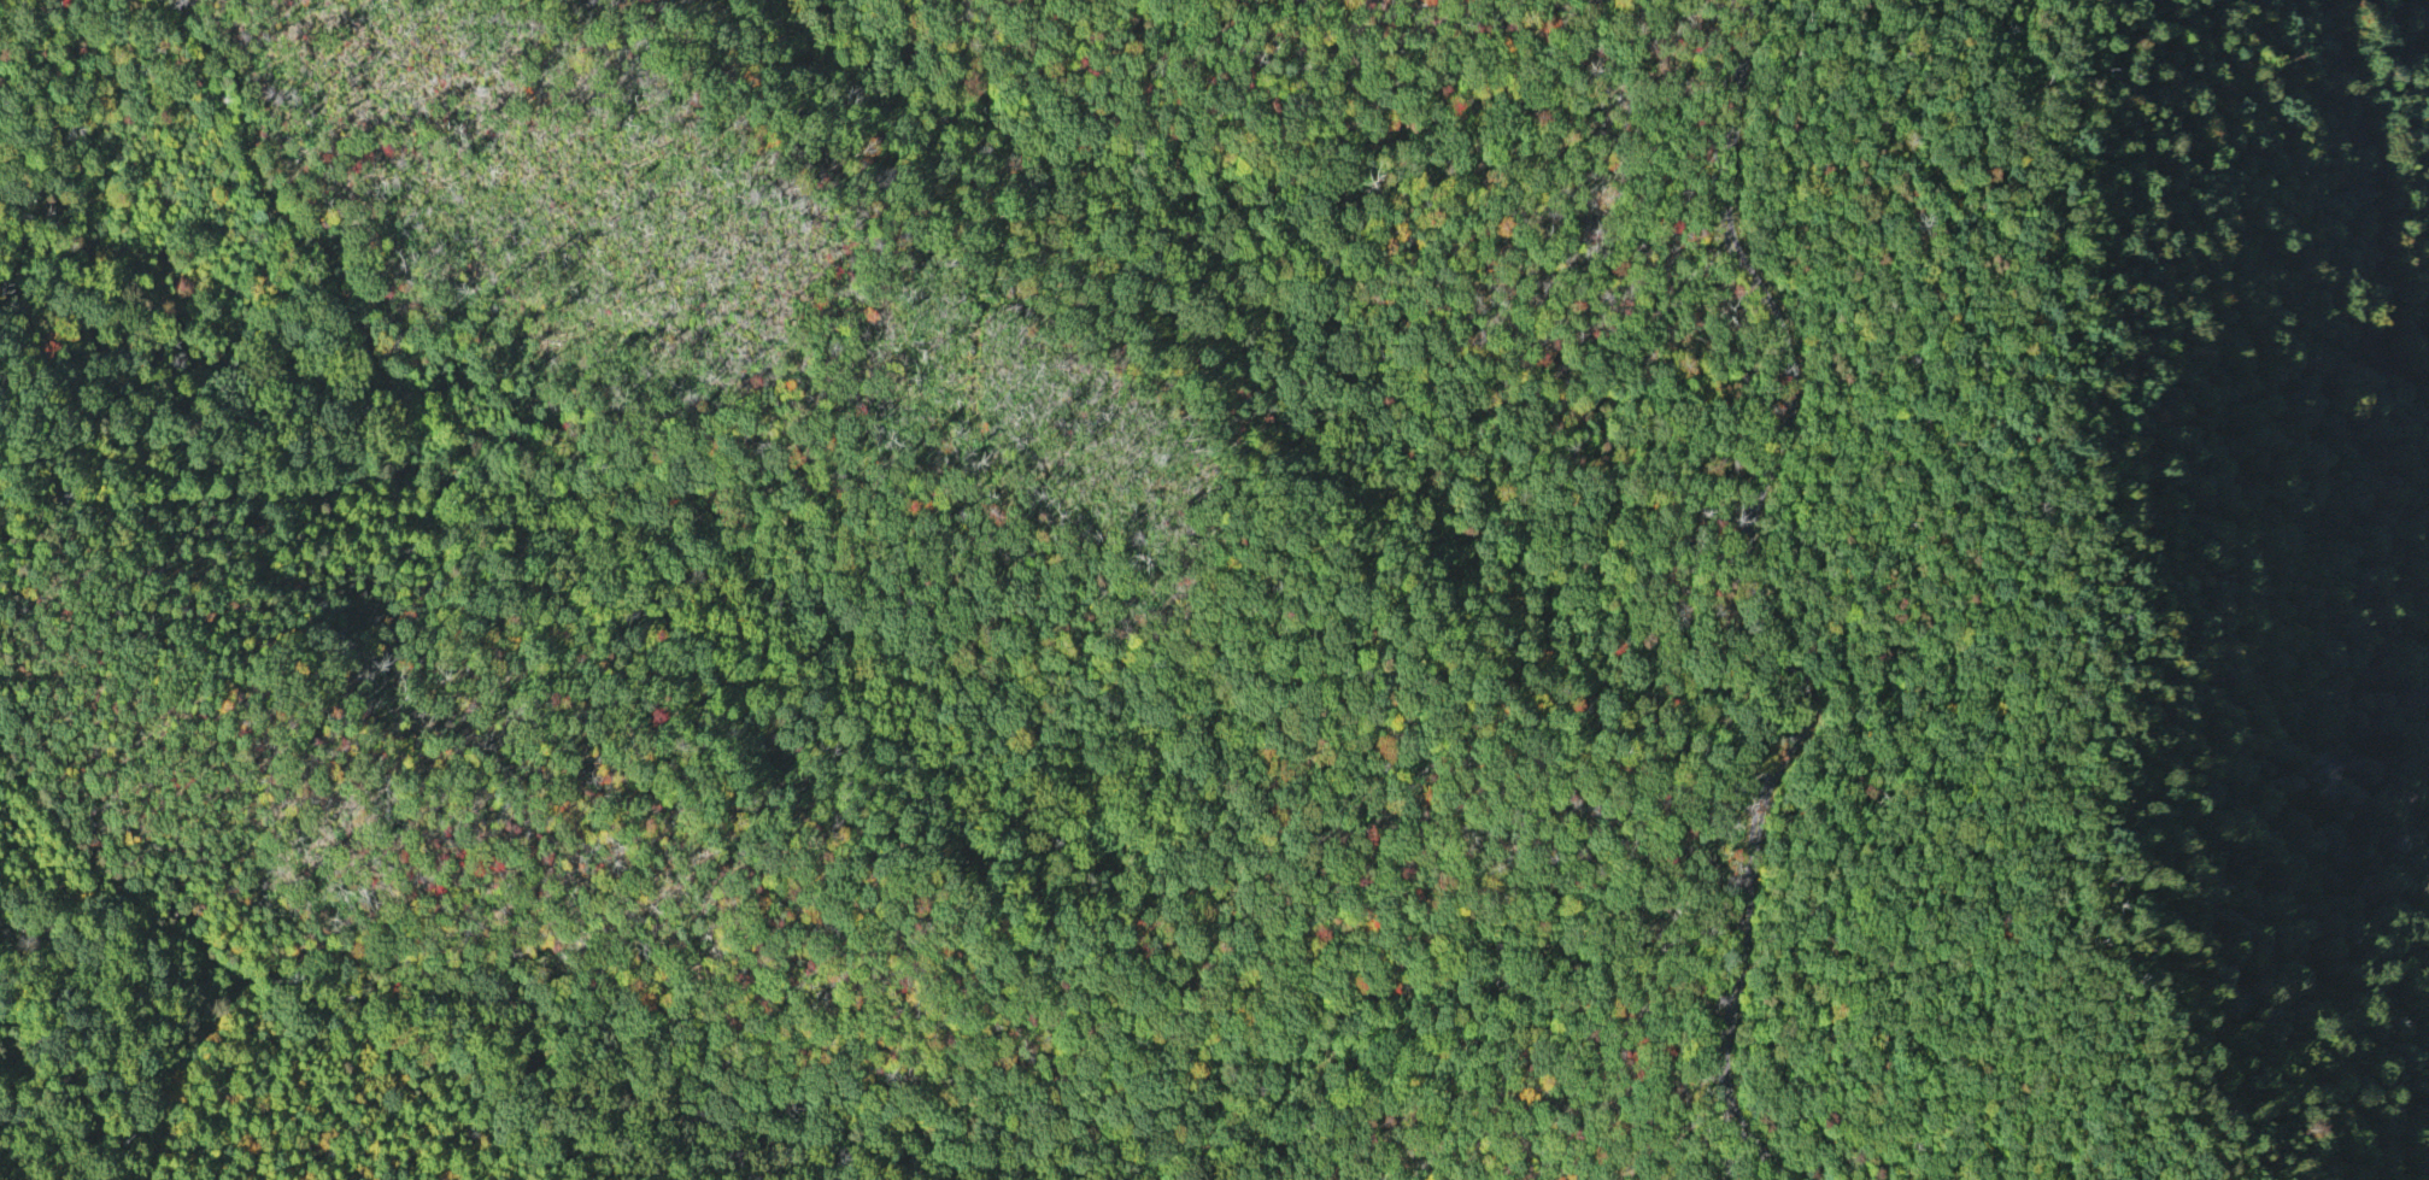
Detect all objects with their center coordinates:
road: (2366, 205)
road: (105, 511)
road: (1762, 597)

